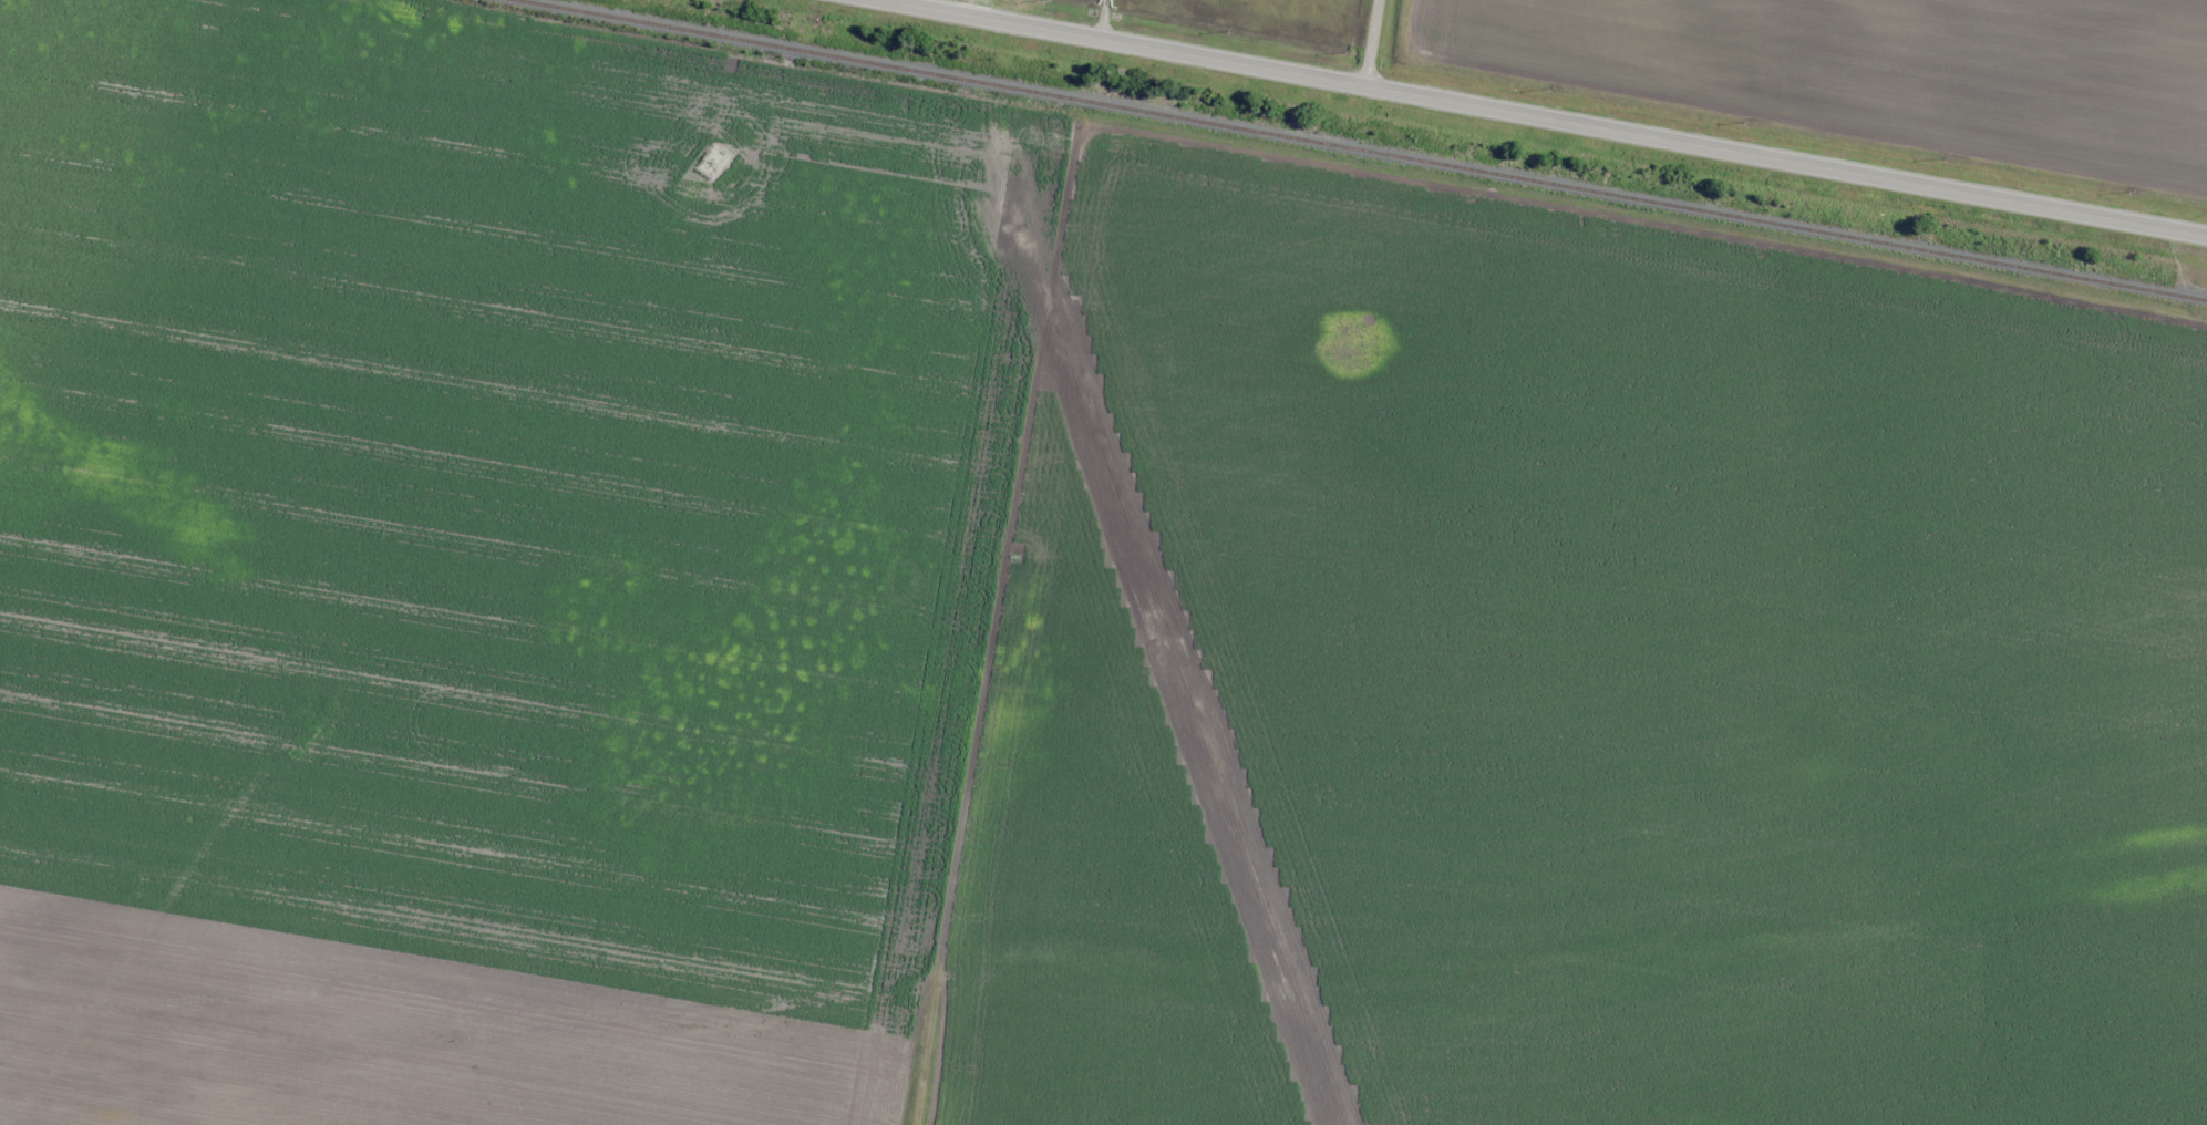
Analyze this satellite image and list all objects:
road: (1378, 42)
road: (1549, 115)
railway: (1364, 152)
road: (1072, 1083)

